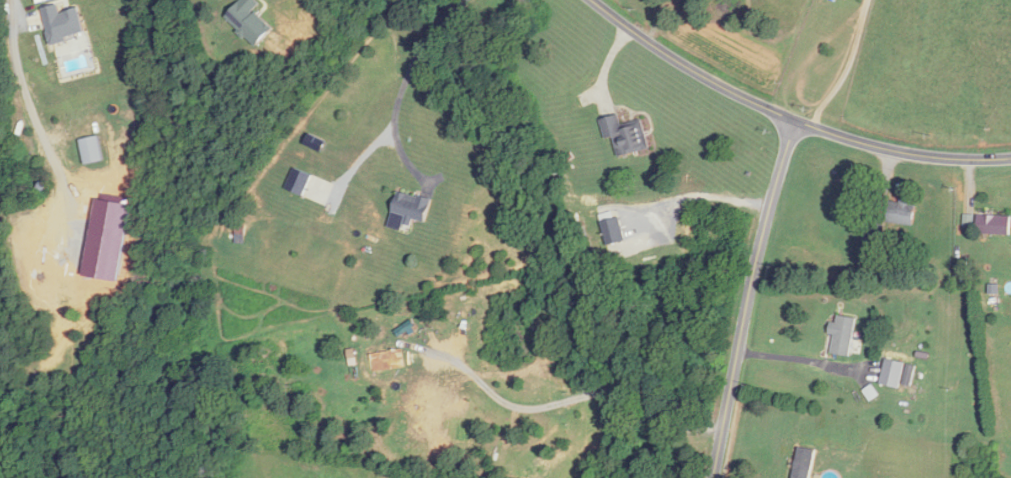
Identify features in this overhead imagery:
building: (66, 24)
road: (606, 65)
road: (847, 66)
road: (403, 83)
road: (788, 116)
road: (42, 125)
building: (625, 135)
building: (94, 150)
road: (703, 193)
building: (411, 206)
building: (900, 212)
building: (993, 224)
road: (749, 297)
building: (843, 336)
road: (567, 400)
building: (803, 463)

